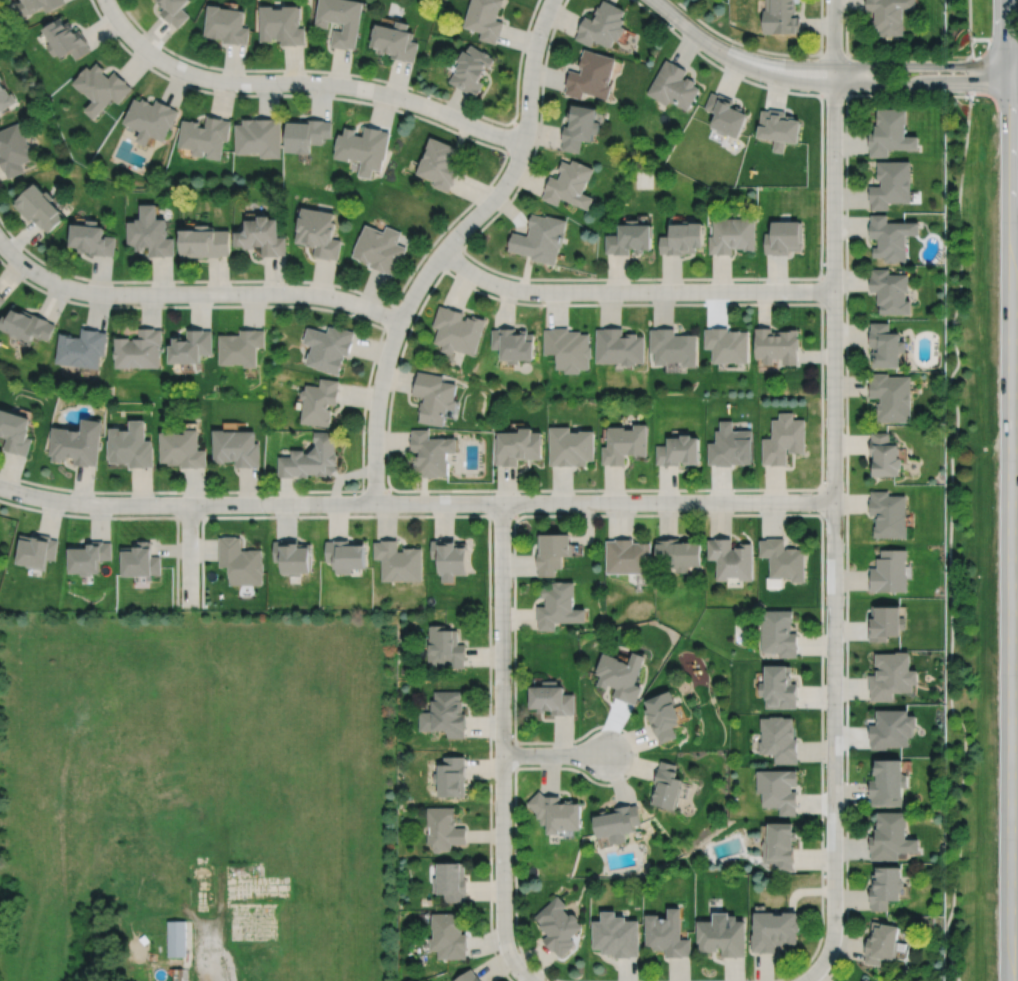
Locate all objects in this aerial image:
building: (39, 6)
building: (173, 11)
building: (889, 15)
building: (780, 17)
building: (485, 19)
road: (969, 19)
building: (341, 21)
street lamp: (670, 25)
building: (226, 26)
building: (281, 26)
building: (602, 26)
street lamp: (548, 37)
street lamp: (974, 37)
building: (66, 40)
road: (994, 40)
building: (395, 42)
road: (971, 48)
road: (767, 51)
road: (846, 54)
road: (882, 54)
road: (735, 57)
street lamp: (852, 57)
street lamp: (178, 58)
road: (922, 65)
road: (1015, 65)
traffic signals: (1012, 66)
building: (472, 71)
road: (971, 75)
road: (369, 77)
building: (592, 77)
building: (0, 79)
road: (303, 83)
street lamp: (763, 83)
road: (922, 86)
building: (672, 87)
traffic signals: (1012, 87)
road: (1015, 87)
building: (101, 89)
street lamp: (282, 92)
building: (5, 99)
street lamp: (974, 103)
street lamp: (408, 110)
building: (725, 116)
building: (150, 121)
building: (581, 129)
building: (778, 129)
building: (892, 132)
building: (305, 136)
road: (512, 136)
building: (204, 138)
building: (258, 139)
building: (363, 150)
building: (13, 151)
street lamp: (843, 158)
street lamp: (508, 162)
building: (440, 165)
building: (571, 182)
building: (892, 182)
building: (40, 206)
road: (464, 209)
building: (151, 231)
building: (319, 233)
building: (732, 233)
building: (541, 236)
building: (632, 236)
building: (685, 236)
building: (784, 236)
building: (892, 236)
building: (93, 237)
building: (263, 237)
building: (206, 240)
street lamp: (465, 240)
road: (448, 244)
building: (380, 247)
road: (453, 258)
street lamp: (823, 272)
street lamp: (25, 277)
road: (697, 277)
street lamp: (656, 280)
street lamp: (758, 281)
street lamp: (288, 282)
street lamp: (178, 283)
road: (633, 290)
road: (821, 290)
building: (891, 290)
road: (195, 293)
building: (2, 298)
street lamp: (543, 301)
road: (821, 305)
road: (389, 316)
building: (27, 323)
building: (458, 329)
street lamp: (384, 336)
building: (515, 342)
building: (728, 343)
building: (777, 344)
building: (886, 344)
building: (192, 345)
building: (621, 345)
building: (675, 345)
building: (242, 346)
building: (329, 346)
building: (83, 347)
building: (570, 347)
building: (140, 348)
road: (367, 389)
building: (435, 396)
street lamp: (824, 396)
building: (893, 396)
building: (319, 401)
street lamp: (366, 430)
building: (15, 431)
building: (783, 439)
building: (78, 442)
building: (626, 443)
building: (131, 445)
building: (519, 445)
building: (731, 445)
building: (571, 446)
building: (237, 447)
building: (183, 448)
building: (680, 450)
building: (432, 452)
building: (884, 455)
building: (312, 457)
road: (834, 476)
road: (846, 477)
road: (377, 490)
road: (1011, 490)
street lamp: (356, 492)
street lamp: (494, 492)
street lamp: (599, 492)
street lamp: (158, 494)
road: (821, 501)
street lamp: (23, 502)
road: (416, 502)
street lamp: (706, 511)
street lamp: (266, 513)
road: (504, 514)
building: (889, 514)
road: (189, 516)
road: (133, 517)
street lamp: (823, 518)
road: (950, 539)
building: (36, 550)
building: (554, 552)
building: (681, 553)
building: (345, 554)
road: (189, 555)
building: (293, 556)
building: (630, 556)
building: (88, 557)
building: (450, 558)
building: (732, 559)
building: (783, 559)
building: (140, 560)
building: (242, 561)
building: (399, 561)
road: (489, 561)
building: (890, 571)
street lamp: (180, 602)
street lamp: (492, 604)
building: (560, 606)
building: (886, 623)
building: (778, 633)
building: (445, 647)
street lamp: (843, 649)
building: (622, 676)
building: (892, 676)
building: (778, 688)
building: (553, 699)
building: (445, 714)
building: (666, 716)
road: (502, 724)
building: (892, 730)
street lamp: (512, 737)
building: (778, 739)
street lamp: (578, 741)
road: (514, 754)
road: (554, 754)
street lamp: (824, 767)
building: (451, 777)
building: (888, 785)
building: (669, 787)
building: (778, 791)
building: (558, 813)
building: (620, 824)
building: (443, 829)
building: (892, 837)
building: (779, 845)
street lamp: (824, 872)
street lamp: (511, 876)
building: (450, 879)
building: (886, 884)
building: (558, 924)
building: (773, 928)
building: (668, 932)
building: (617, 933)
building: (447, 934)
building: (722, 934)
building: (177, 937)
building: (882, 941)
road: (216, 946)
road: (515, 966)
road: (818, 968)
building: (467, 976)
building: (867, 979)
road: (685, 980)

